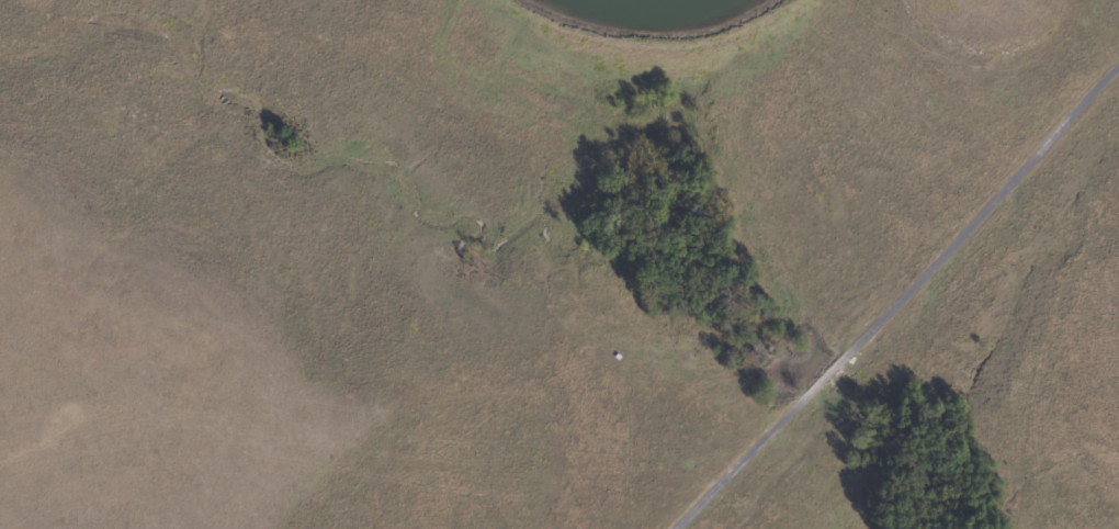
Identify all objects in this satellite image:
road: (889, 302)

